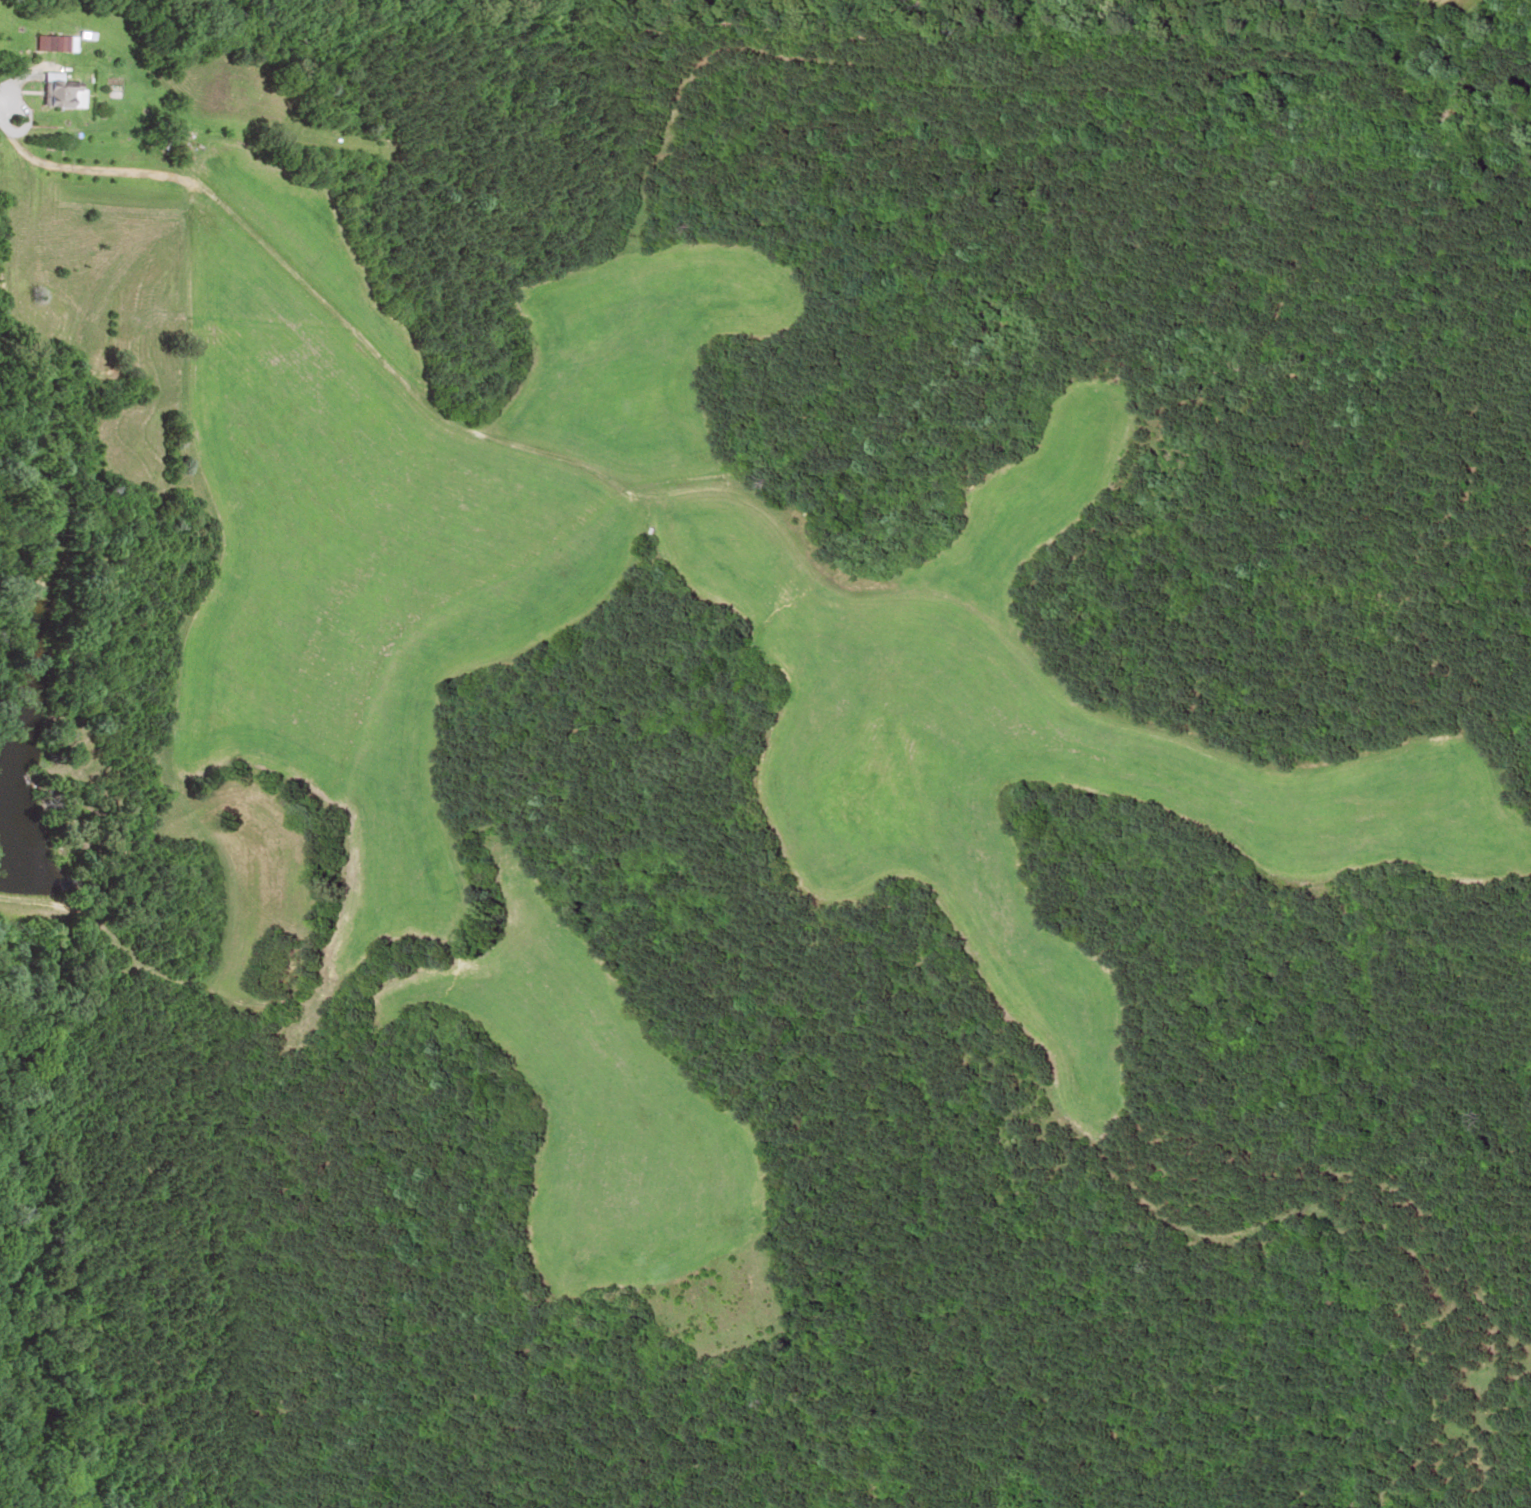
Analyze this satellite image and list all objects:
building: (87, 35)
building: (56, 44)
building: (62, 96)

